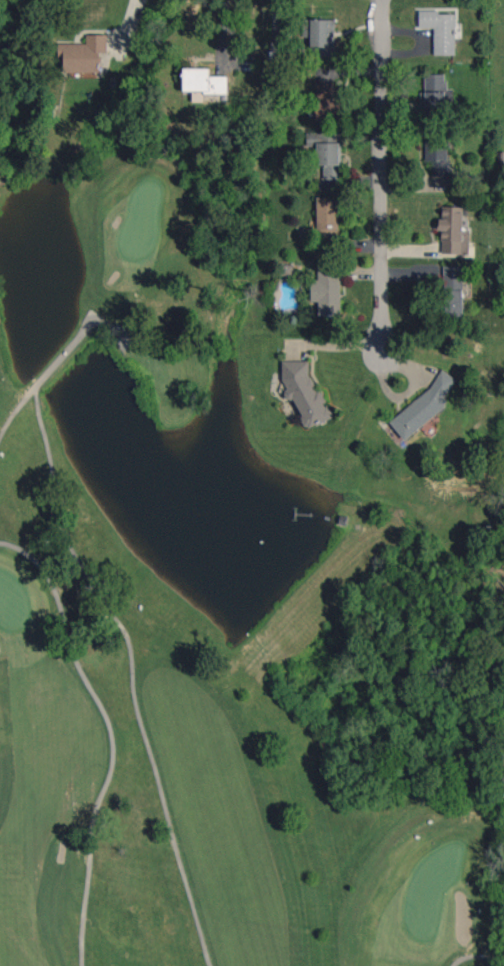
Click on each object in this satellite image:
building: (440, 30)
building: (320, 36)
building: (83, 54)
building: (203, 81)
building: (434, 94)
building: (327, 104)
building: (437, 153)
building: (329, 154)
road: (381, 184)
building: (328, 216)
park: (141, 221)
building: (454, 230)
building: (327, 289)
building: (451, 292)
building: (307, 395)
building: (423, 403)
building: (343, 520)
park: (11, 603)
park: (219, 621)
park: (430, 890)

